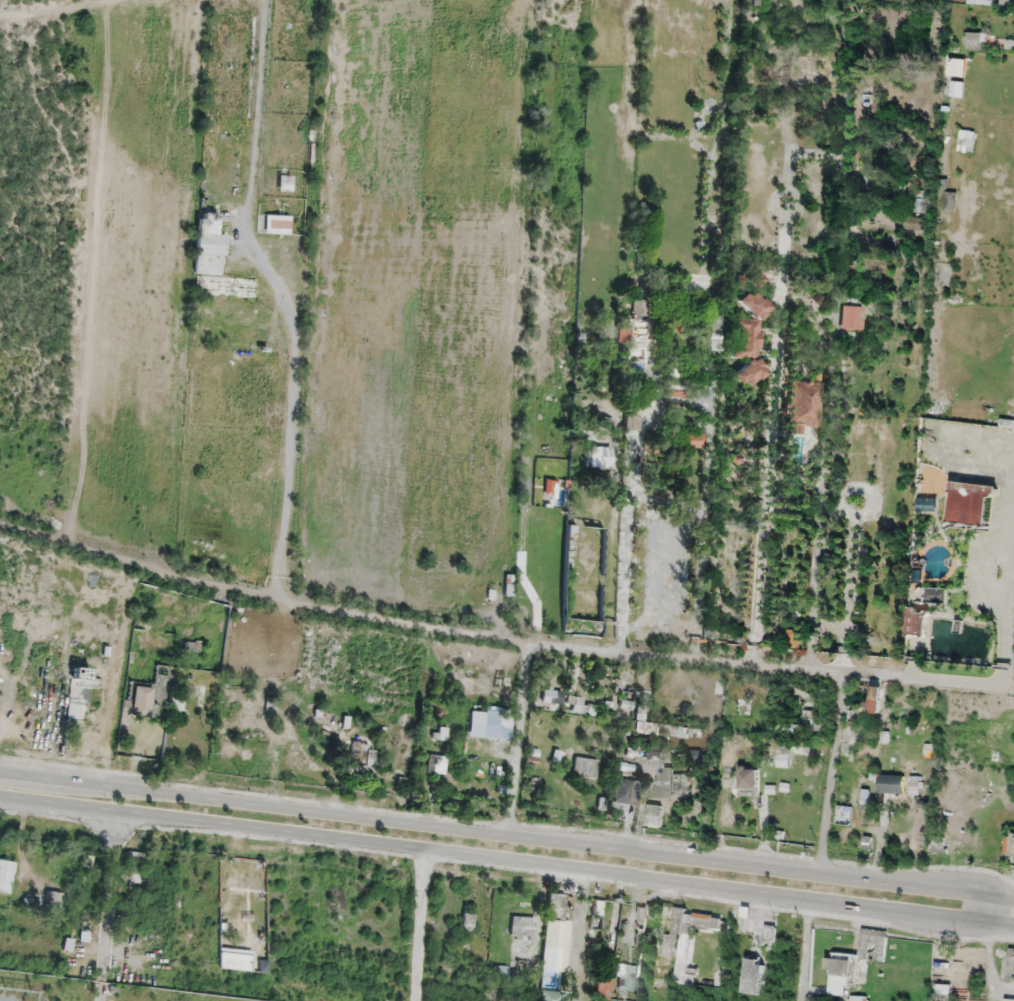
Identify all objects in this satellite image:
road: (58, 5)
road: (278, 297)
road: (713, 329)
road: (772, 409)
road: (629, 502)
building: (586, 569)
road: (501, 637)
power substation: (84, 990)

